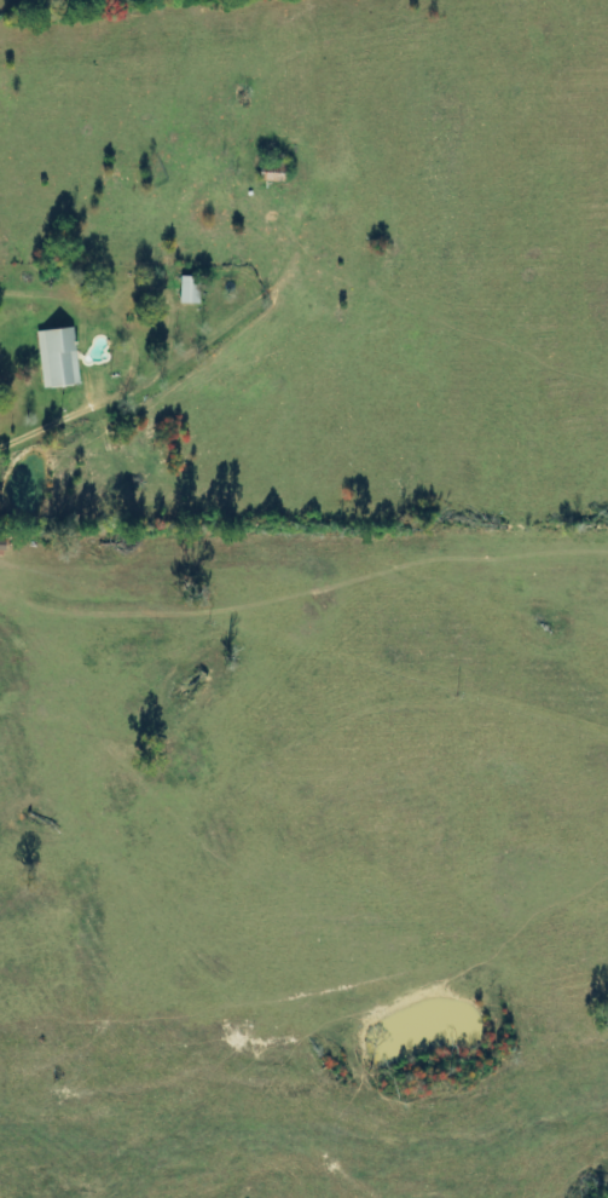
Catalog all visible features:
building: (190, 290)
building: (58, 357)

